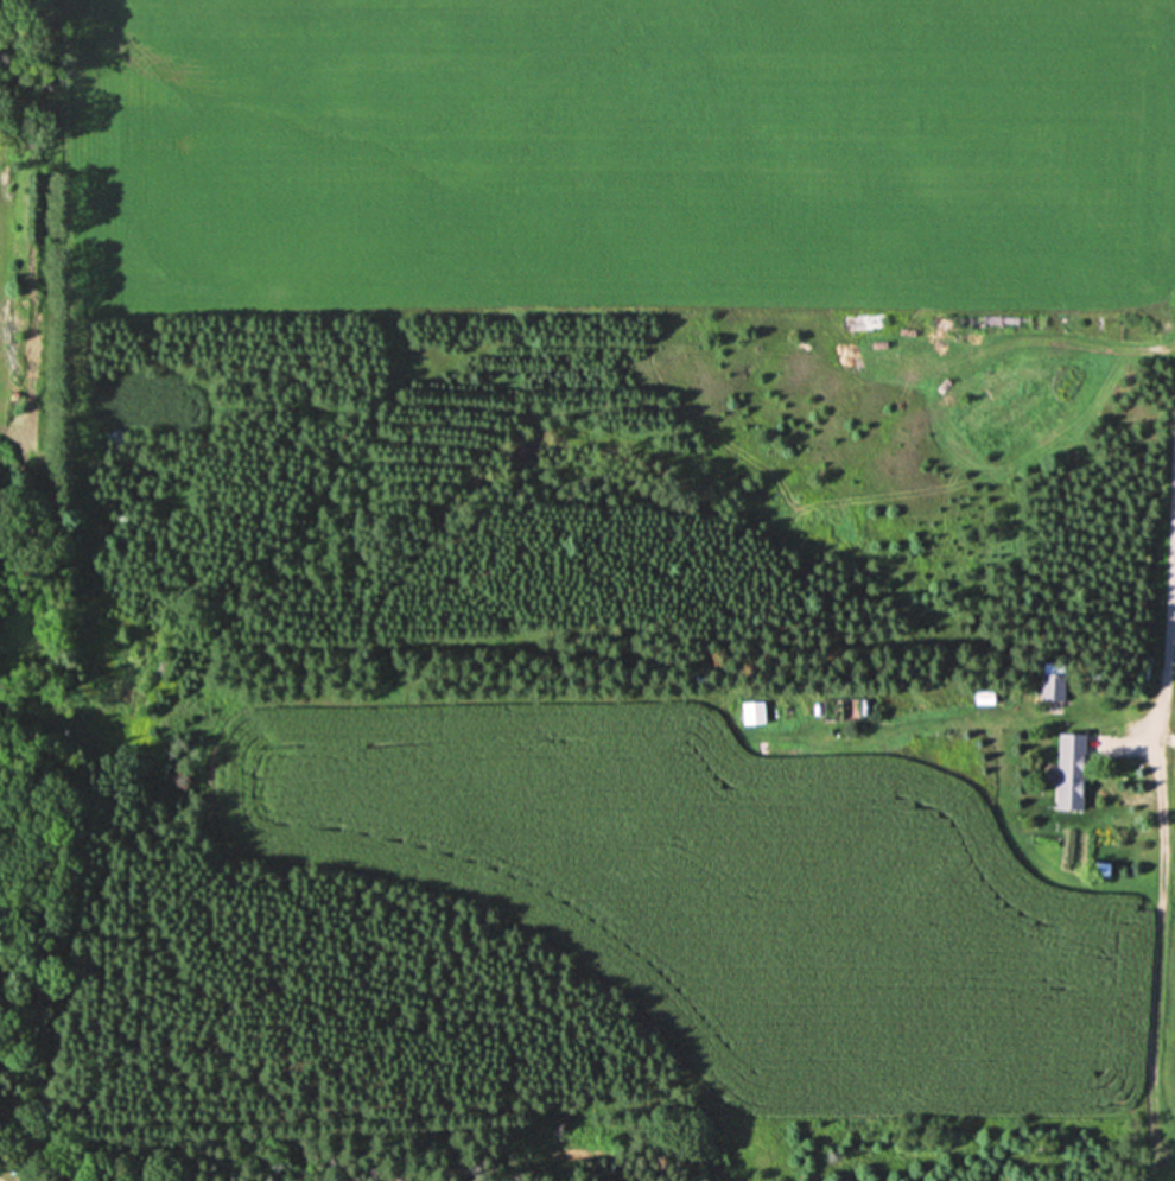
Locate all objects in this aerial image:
road: (1170, 650)
building: (1049, 686)
building: (980, 698)
building: (750, 712)
building: (1067, 772)

